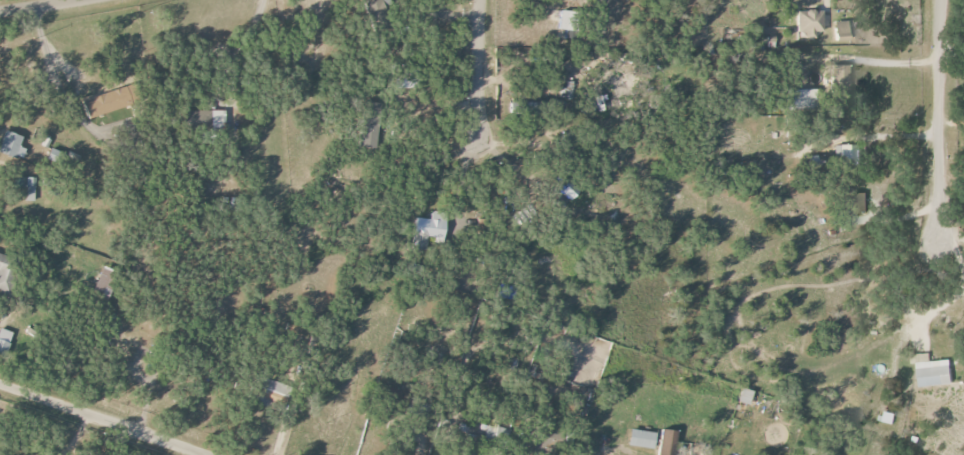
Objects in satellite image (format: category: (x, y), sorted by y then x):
road: (39, 6)
building: (374, 9)
building: (568, 20)
building: (809, 22)
building: (841, 29)
road: (50, 50)
road: (950, 50)
road: (478, 69)
building: (841, 77)
building: (567, 91)
building: (802, 99)
building: (107, 102)
building: (194, 118)
building: (216, 120)
road: (936, 121)
building: (369, 125)
building: (10, 144)
building: (847, 155)
building: (25, 187)
building: (428, 230)
road: (949, 235)
building: (5, 274)
building: (105, 282)
building: (4, 341)
building: (934, 371)
building: (274, 389)
building: (745, 397)
building: (888, 417)
road: (105, 419)
building: (487, 430)
building: (642, 439)
building: (667, 442)
road: (199, 453)

